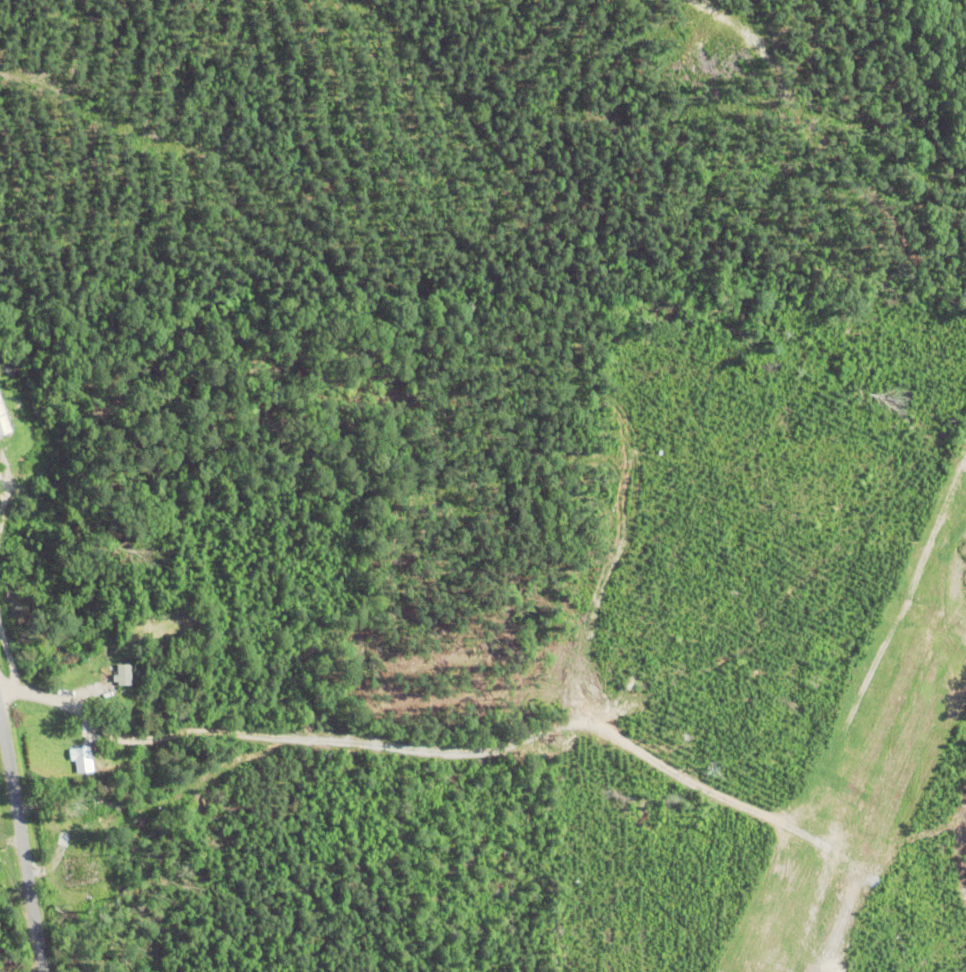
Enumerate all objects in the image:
building: (3, 421)
building: (119, 672)
road: (409, 745)
building: (79, 758)
road: (20, 851)
building: (76, 869)

